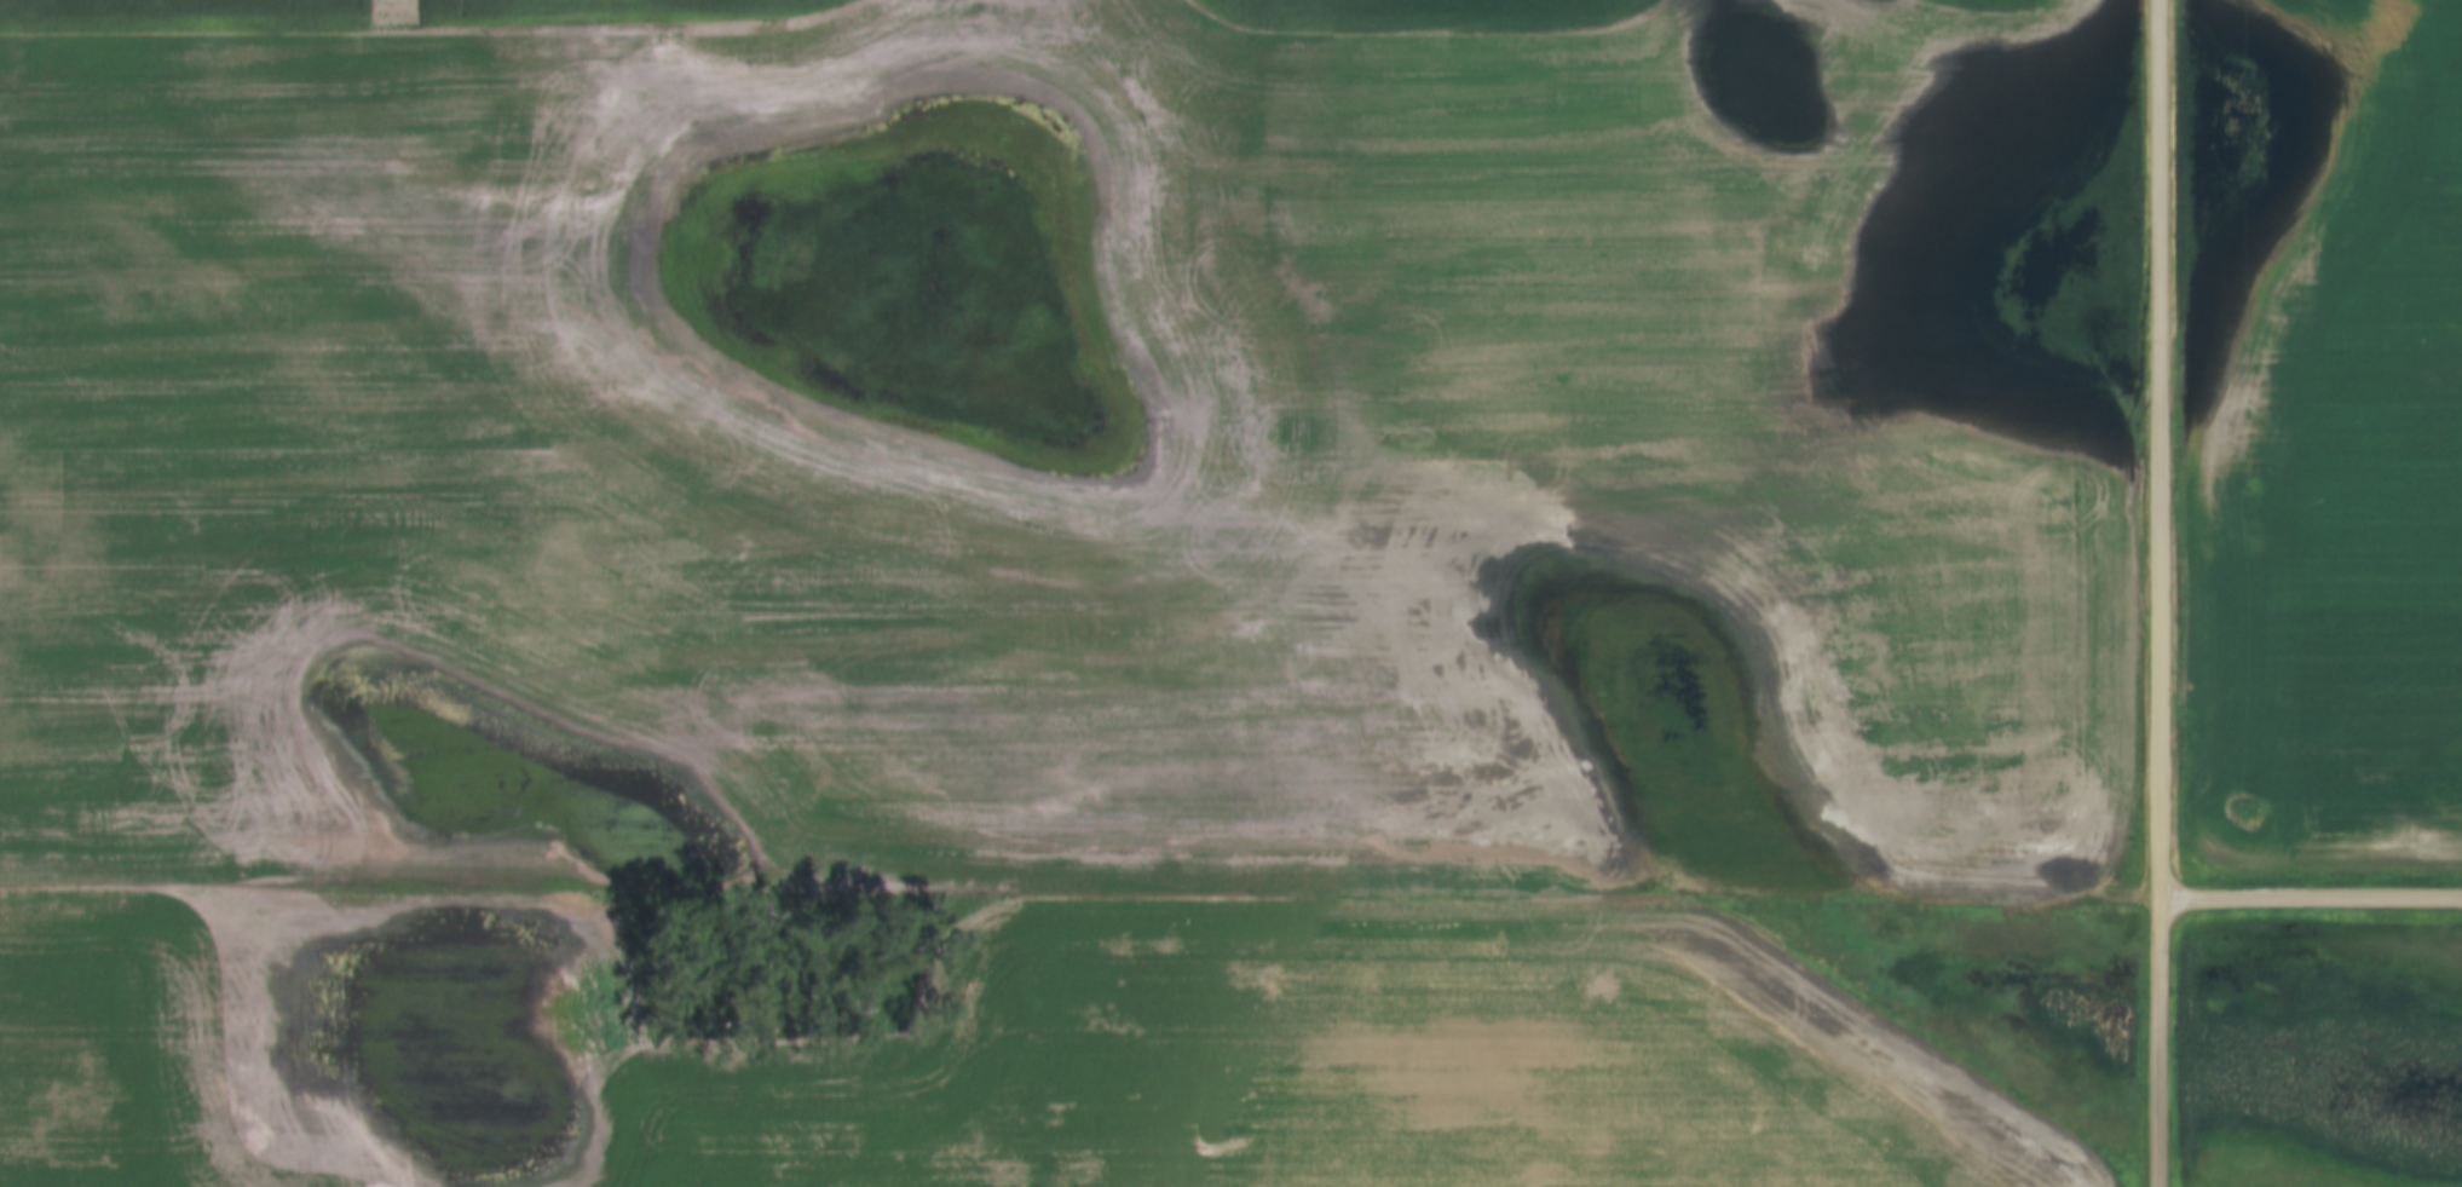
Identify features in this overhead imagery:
road: (2158, 446)
road: (2310, 895)
road: (2157, 1041)

